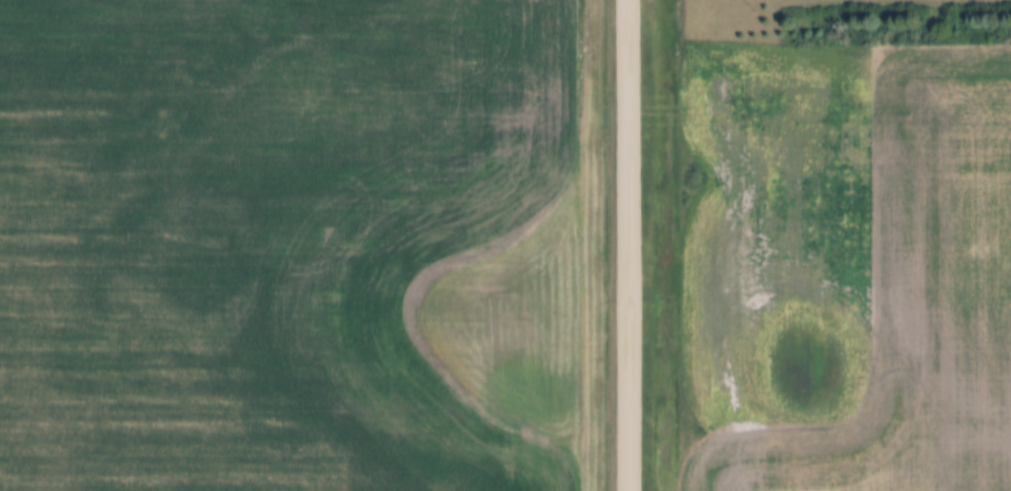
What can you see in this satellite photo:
road: (628, 245)

